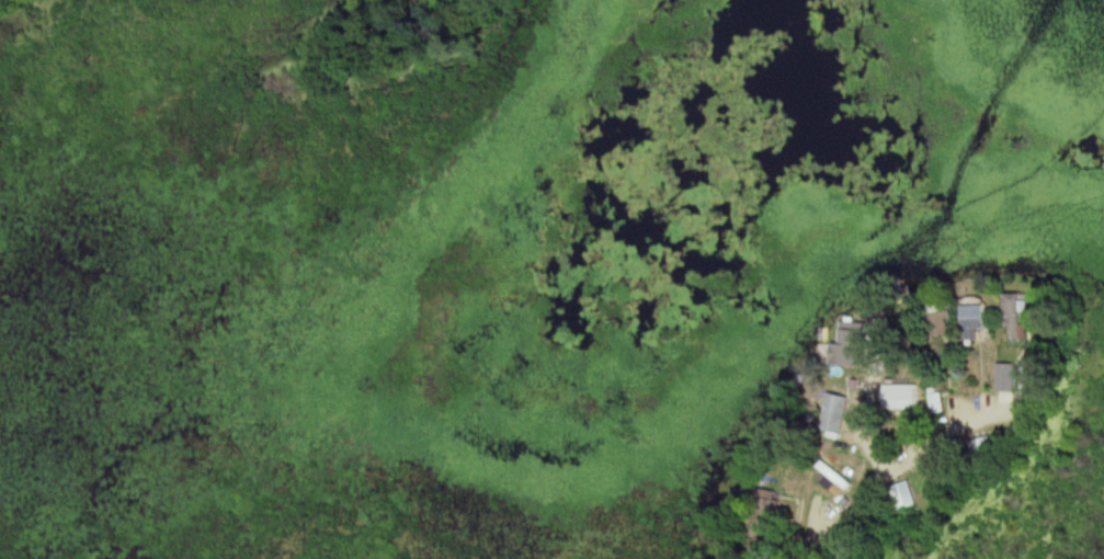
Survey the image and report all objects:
building: (1018, 318)
building: (975, 322)
building: (944, 323)
building: (851, 341)
building: (1008, 379)
building: (903, 397)
building: (832, 414)
building: (982, 446)
road: (878, 464)
building: (903, 495)
building: (767, 512)

